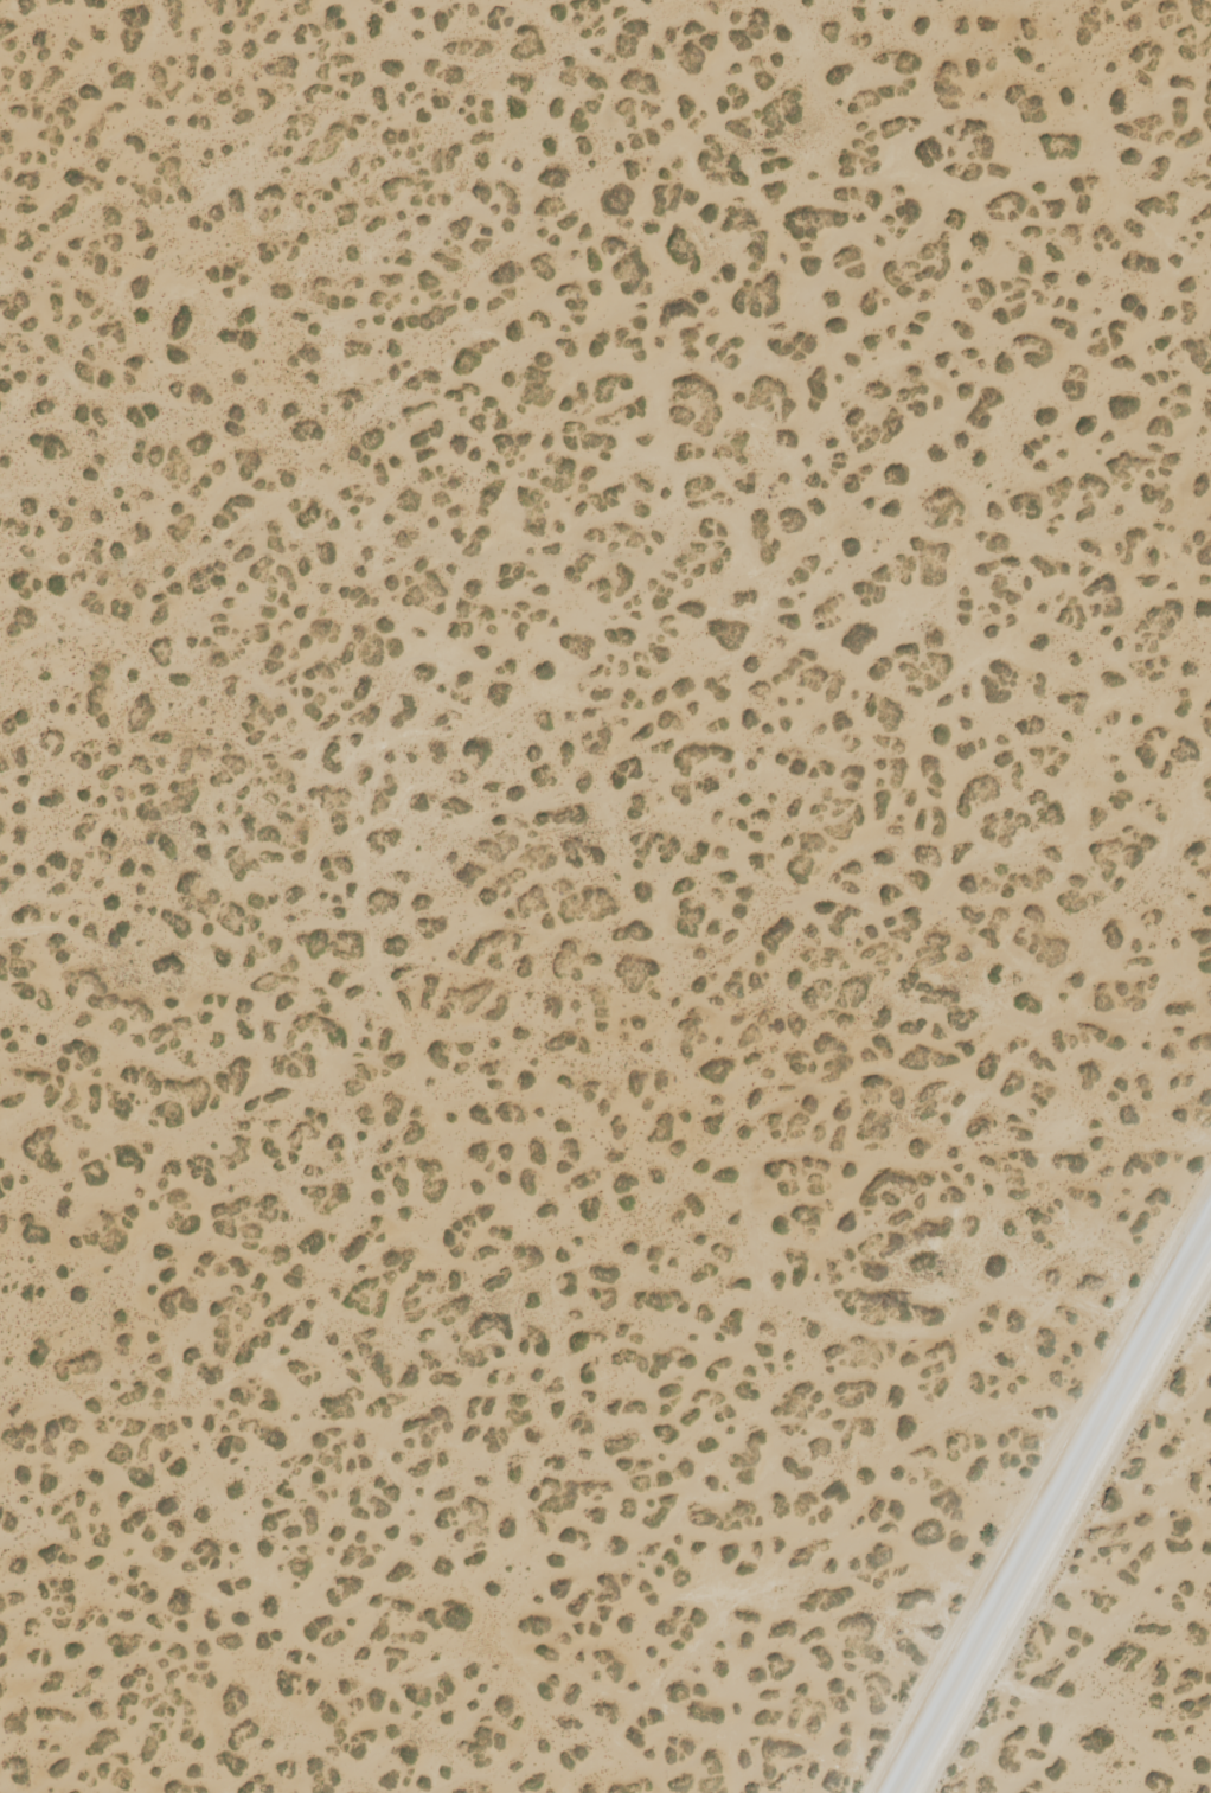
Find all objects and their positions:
road: (1052, 1507)

